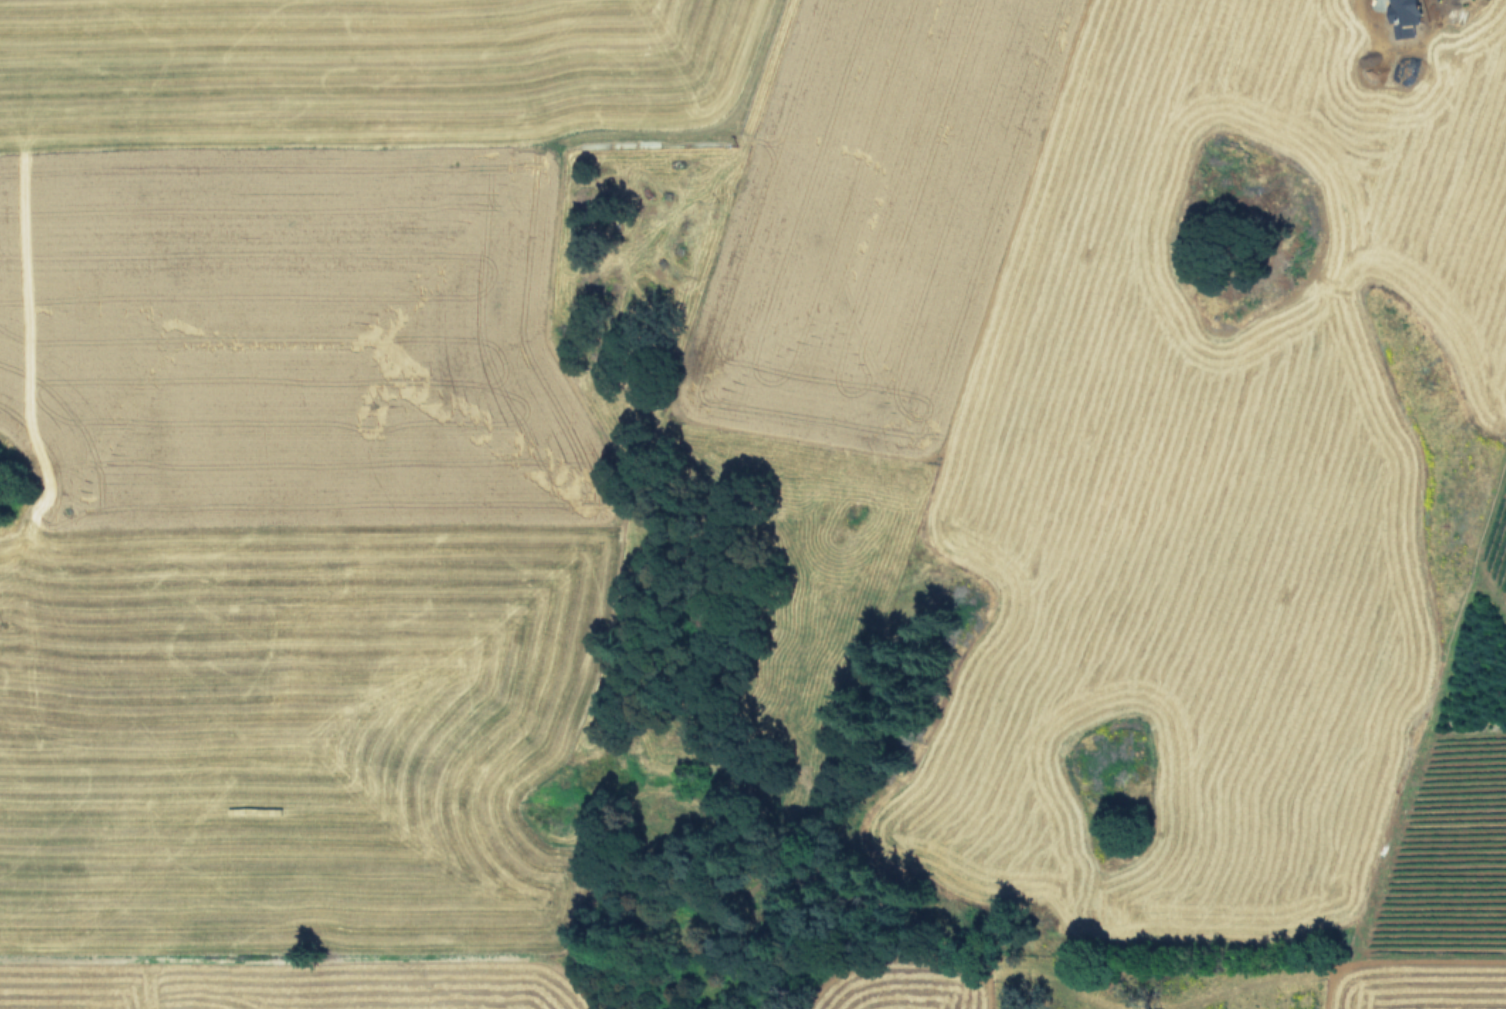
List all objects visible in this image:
crop: (760, 475)

